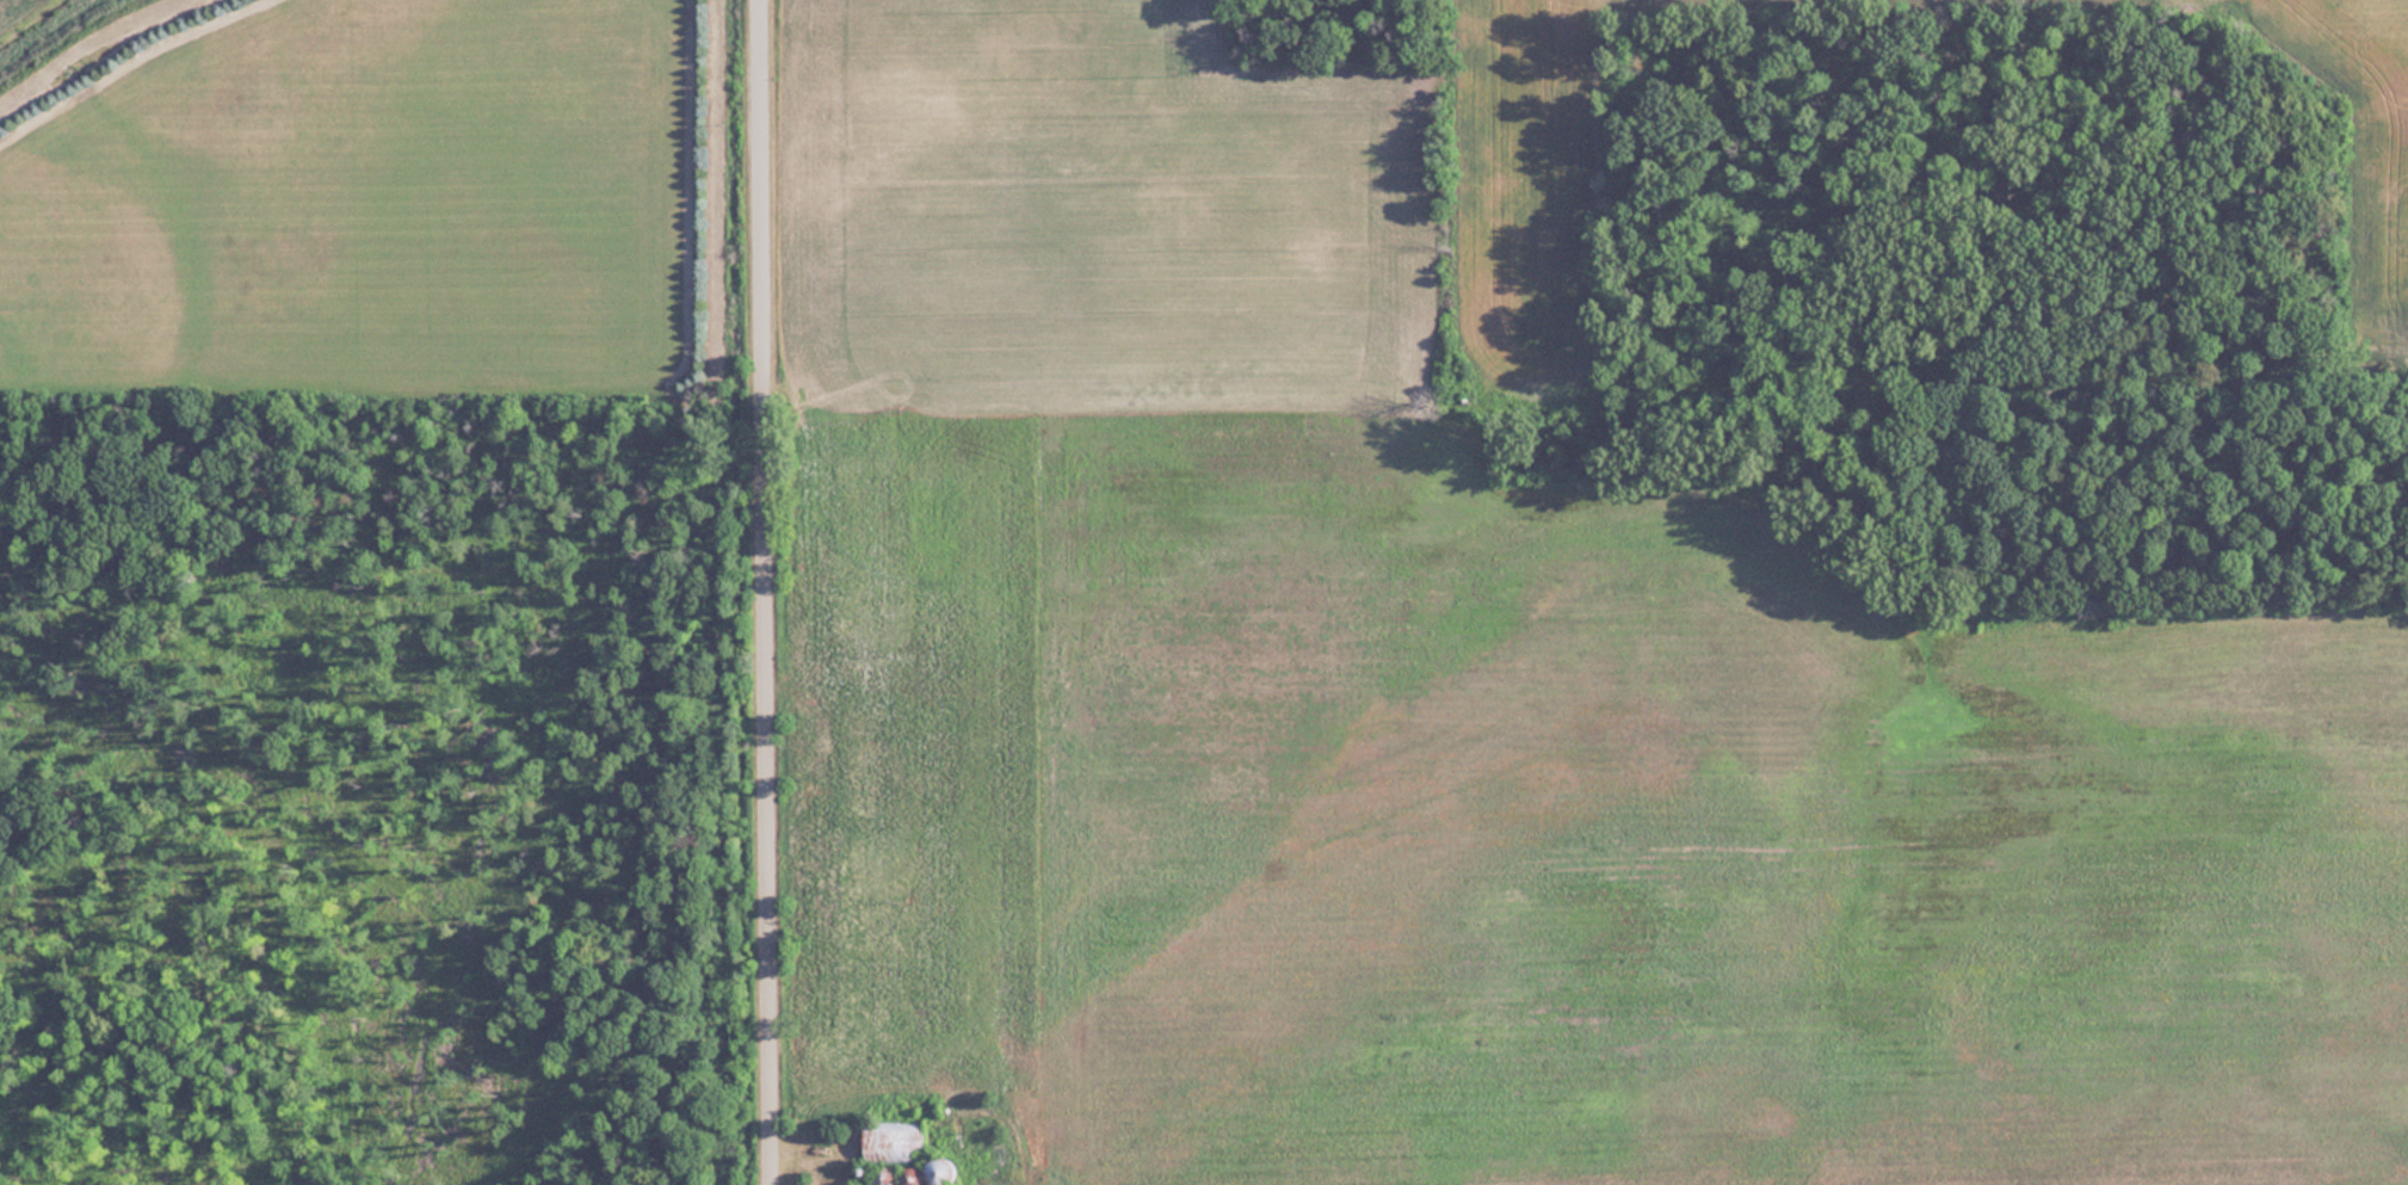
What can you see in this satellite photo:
road: (767, 592)
building: (891, 1138)
building: (939, 1172)
building: (882, 1175)
building: (909, 1177)

